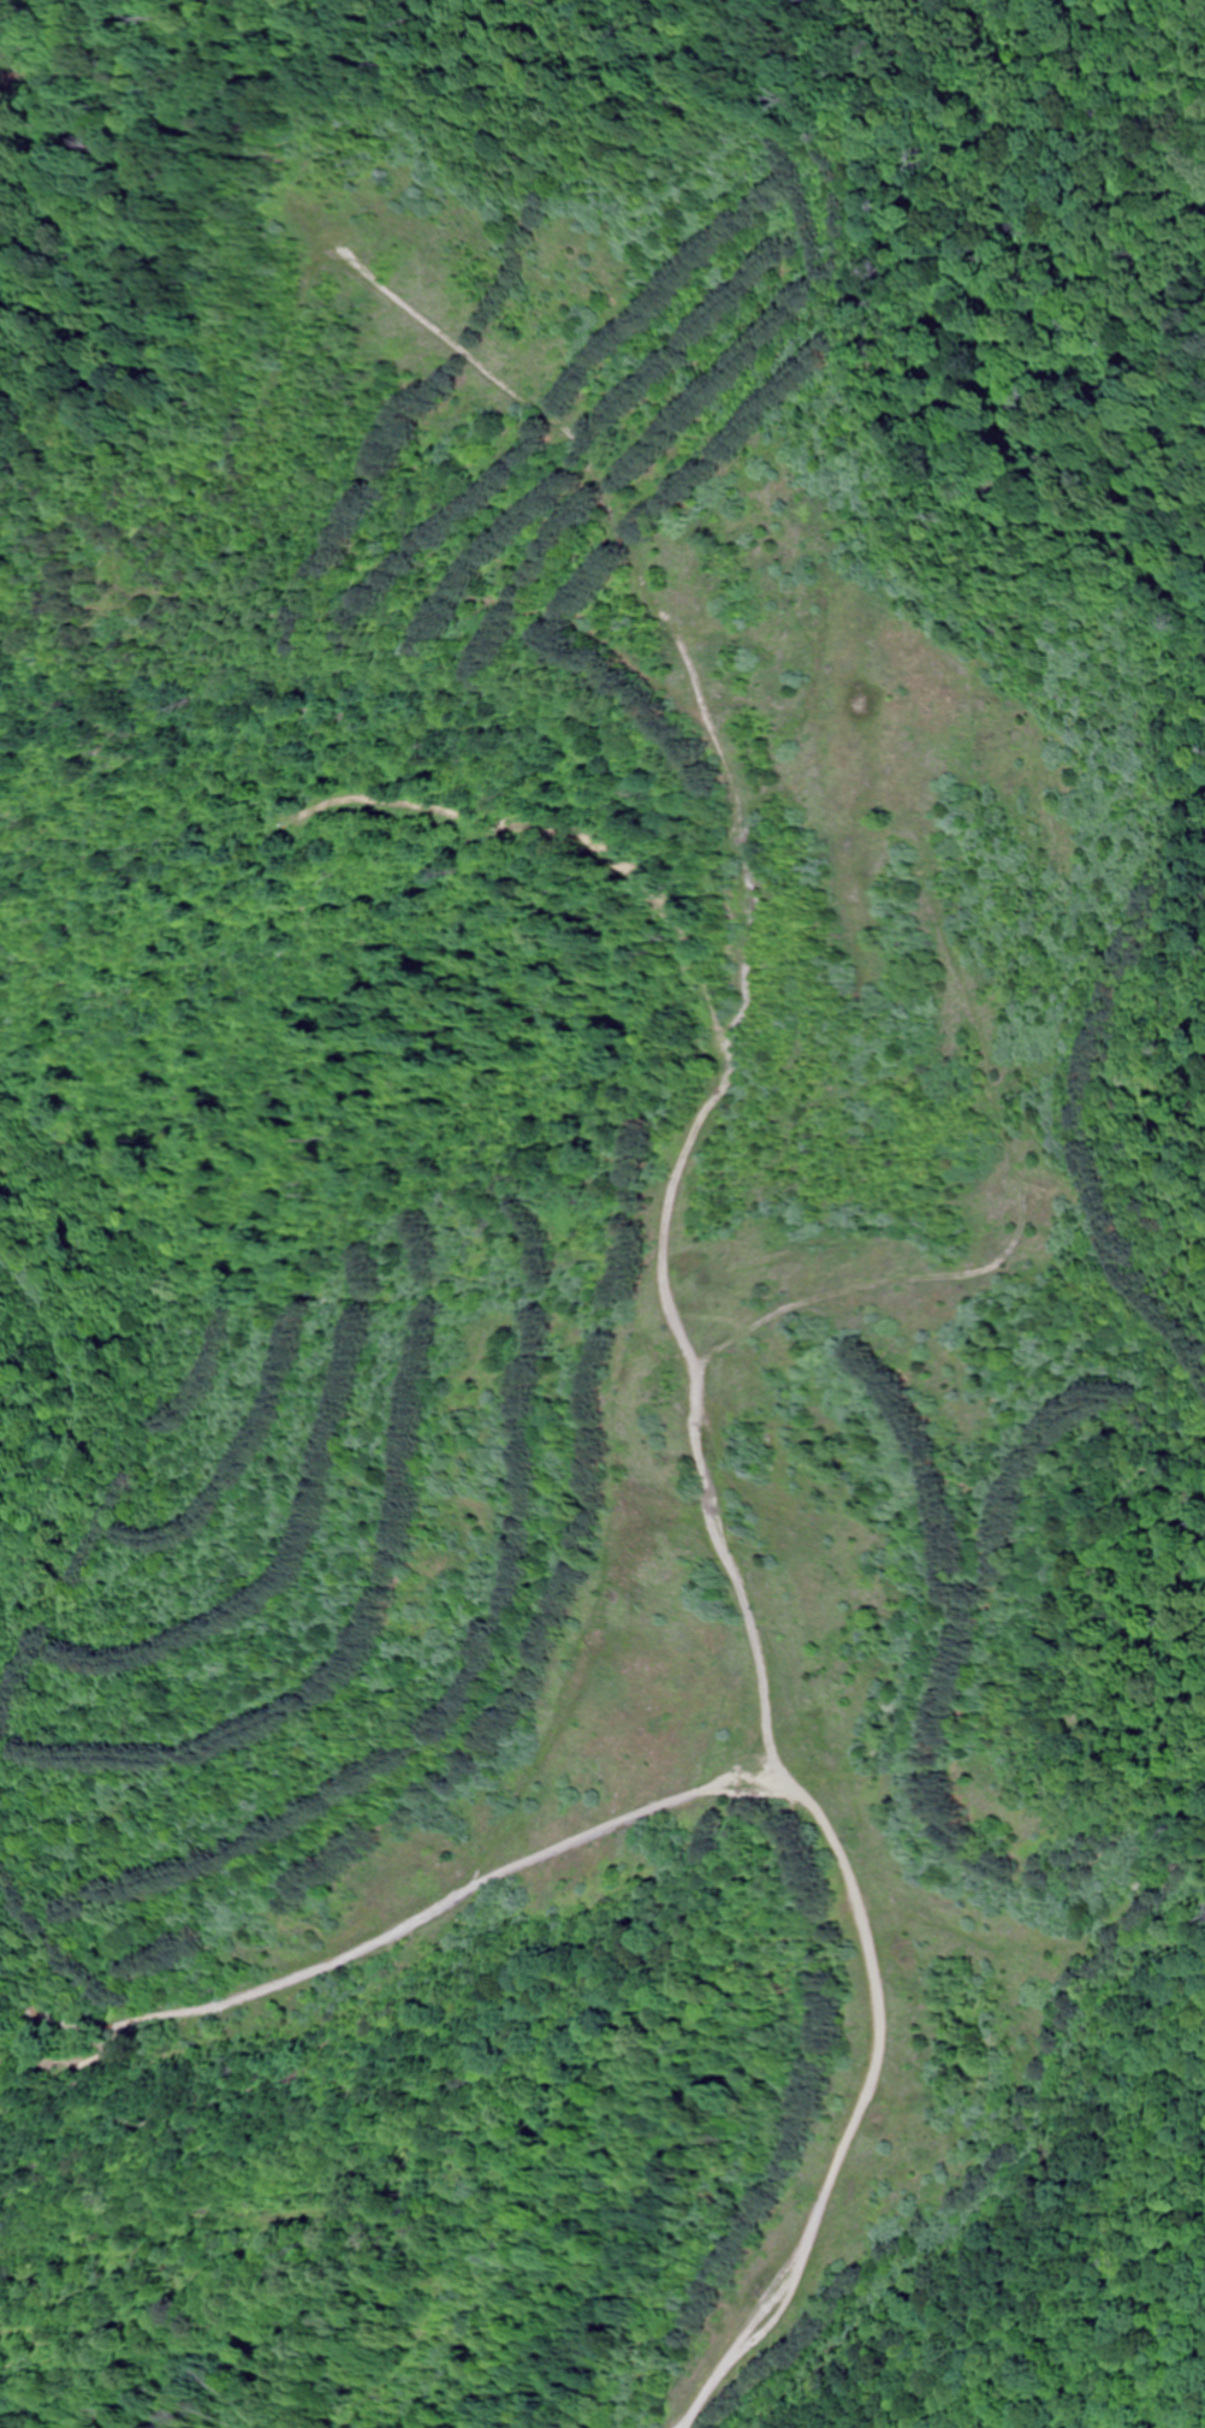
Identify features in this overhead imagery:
road: (711, 1740)

